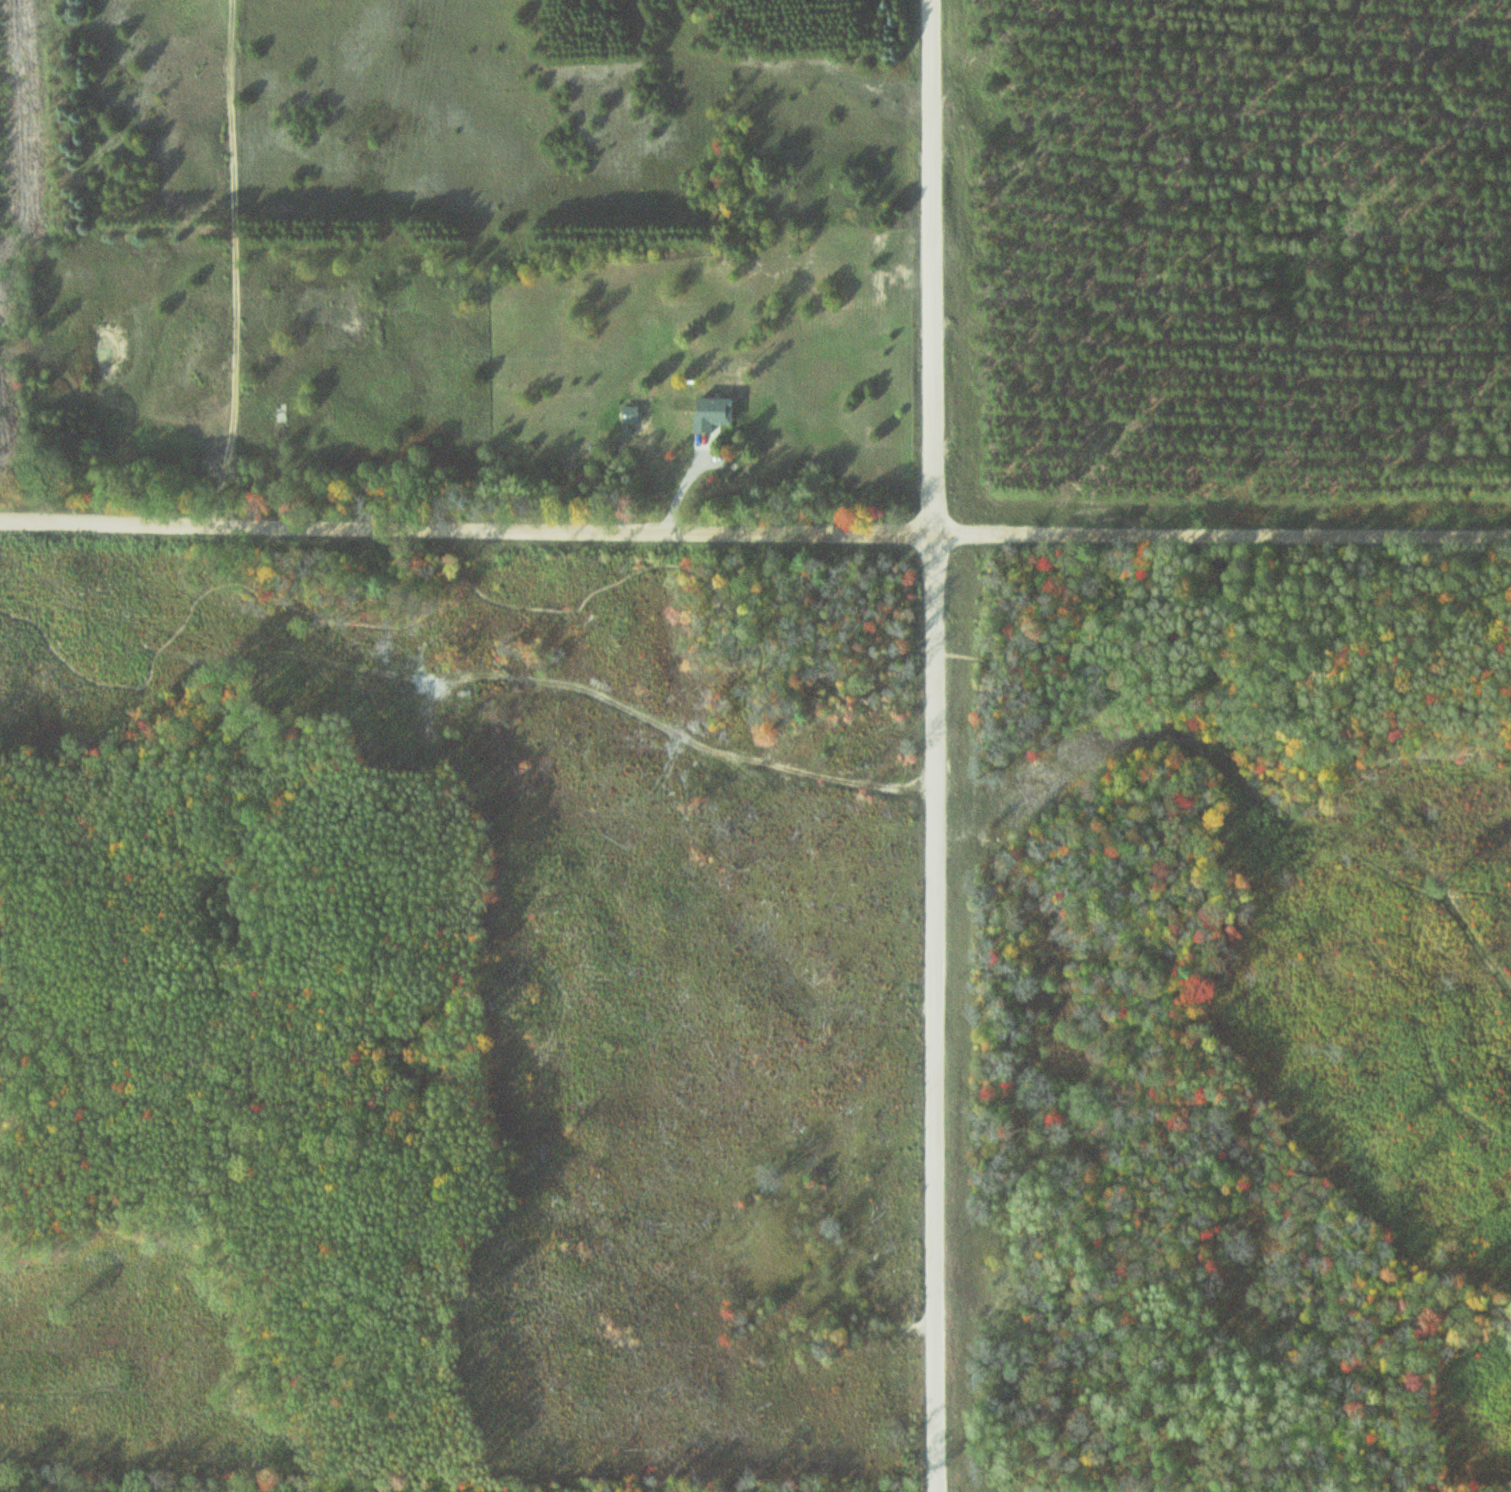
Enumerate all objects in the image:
building: (716, 414)
road: (755, 528)
road: (762, 697)
road: (940, 745)
road: (1333, 780)

